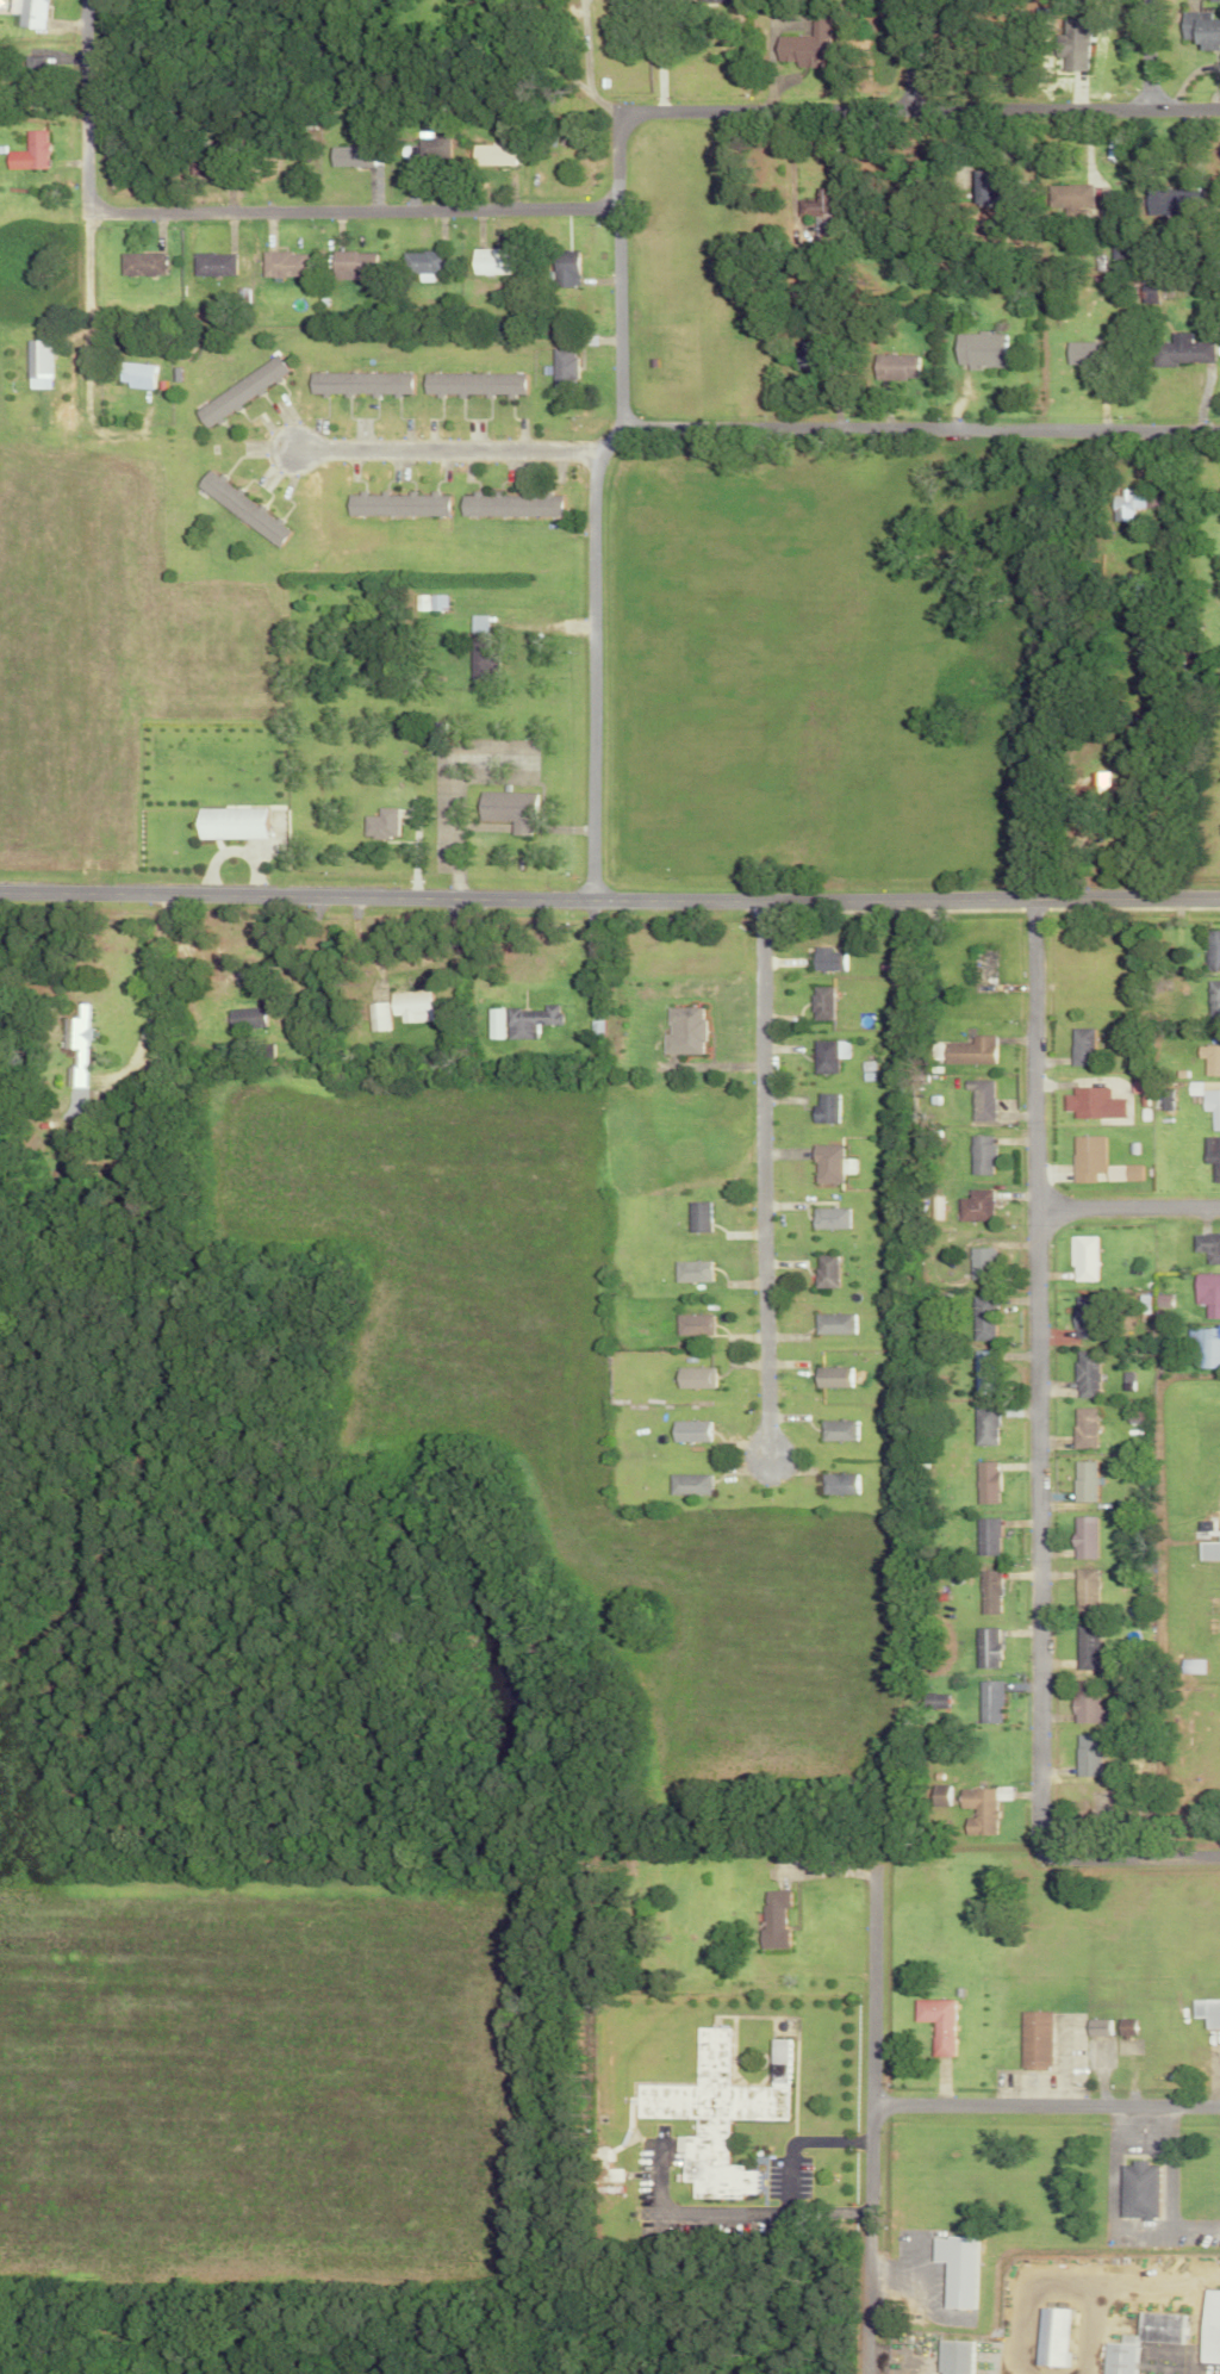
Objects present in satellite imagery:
building: (726, 0)
building: (32, 12)
building: (802, 44)
road: (585, 45)
building: (1073, 51)
road: (660, 54)
road: (1151, 54)
road: (913, 55)
road: (561, 70)
road: (764, 108)
building: (427, 149)
building: (33, 153)
building: (350, 155)
building: (491, 155)
road: (790, 162)
building: (217, 166)
building: (979, 187)
road: (83, 192)
building: (1067, 197)
building: (814, 205)
road: (348, 209)
building: (486, 261)
building: (418, 262)
building: (348, 263)
building: (141, 265)
building: (213, 265)
building: (278, 265)
building: (560, 268)
building: (976, 350)
building: (1178, 350)
building: (796, 353)
building: (1079, 353)
building: (38, 363)
building: (559, 367)
building: (891, 367)
building: (137, 374)
building: (361, 383)
building: (471, 384)
building: (242, 390)
road: (917, 427)
road: (441, 447)
building: (398, 503)
building: (513, 504)
building: (1122, 504)
building: (243, 508)
building: (436, 602)
building: (480, 651)
road: (589, 659)
road: (447, 791)
building: (1085, 791)
building: (510, 808)
building: (231, 822)
building: (380, 822)
road: (609, 900)
building: (1210, 949)
building: (829, 958)
road: (242, 970)
road: (150, 996)
building: (1212, 999)
building: (823, 1002)
building: (412, 1005)
building: (243, 1019)
building: (378, 1019)
building: (524, 1021)
building: (686, 1031)
building: (73, 1032)
building: (1078, 1045)
building: (967, 1050)
building: (829, 1055)
building: (1208, 1058)
building: (979, 1099)
building: (1089, 1102)
building: (1207, 1102)
building: (828, 1107)
building: (978, 1154)
building: (1210, 1156)
building: (1083, 1157)
building: (833, 1163)
building: (1128, 1172)
road: (762, 1177)
building: (973, 1205)
road: (1127, 1207)
building: (701, 1216)
building: (834, 1218)
building: (1206, 1247)
building: (979, 1257)
building: (1081, 1257)
building: (693, 1270)
building: (829, 1270)
building: (1206, 1293)
building: (1158, 1300)
building: (979, 1317)
building: (1078, 1317)
building: (836, 1323)
building: (693, 1324)
building: (1203, 1344)
building: (983, 1360)
road: (1034, 1374)
building: (1082, 1374)
building: (836, 1376)
building: (695, 1378)
building: (982, 1425)
building: (1081, 1427)
building: (691, 1430)
building: (839, 1430)
building: (1081, 1480)
building: (983, 1481)
building: (687, 1484)
building: (840, 1484)
building: (1203, 1527)
building: (983, 1536)
building: (1081, 1537)
building: (1208, 1547)
building: (1082, 1590)
building: (985, 1591)
building: (983, 1647)
building: (1082, 1647)
building: (929, 1701)
building: (985, 1701)
building: (1083, 1703)
building: (1083, 1754)
building: (977, 1809)
road: (1126, 1857)
building: (774, 1919)
building: (1205, 2012)
building: (934, 2024)
building: (1094, 2027)
building: (1121, 2027)
building: (1032, 2040)
road: (872, 2058)
road: (1045, 2103)
building: (720, 2112)
road: (1165, 2165)
road: (785, 2173)
building: (1133, 2189)
road: (1108, 2219)
building: (954, 2268)
road: (922, 2292)
road: (867, 2324)
building: (1207, 2328)
building: (1050, 2336)
building: (1137, 2339)
building: (953, 2356)

